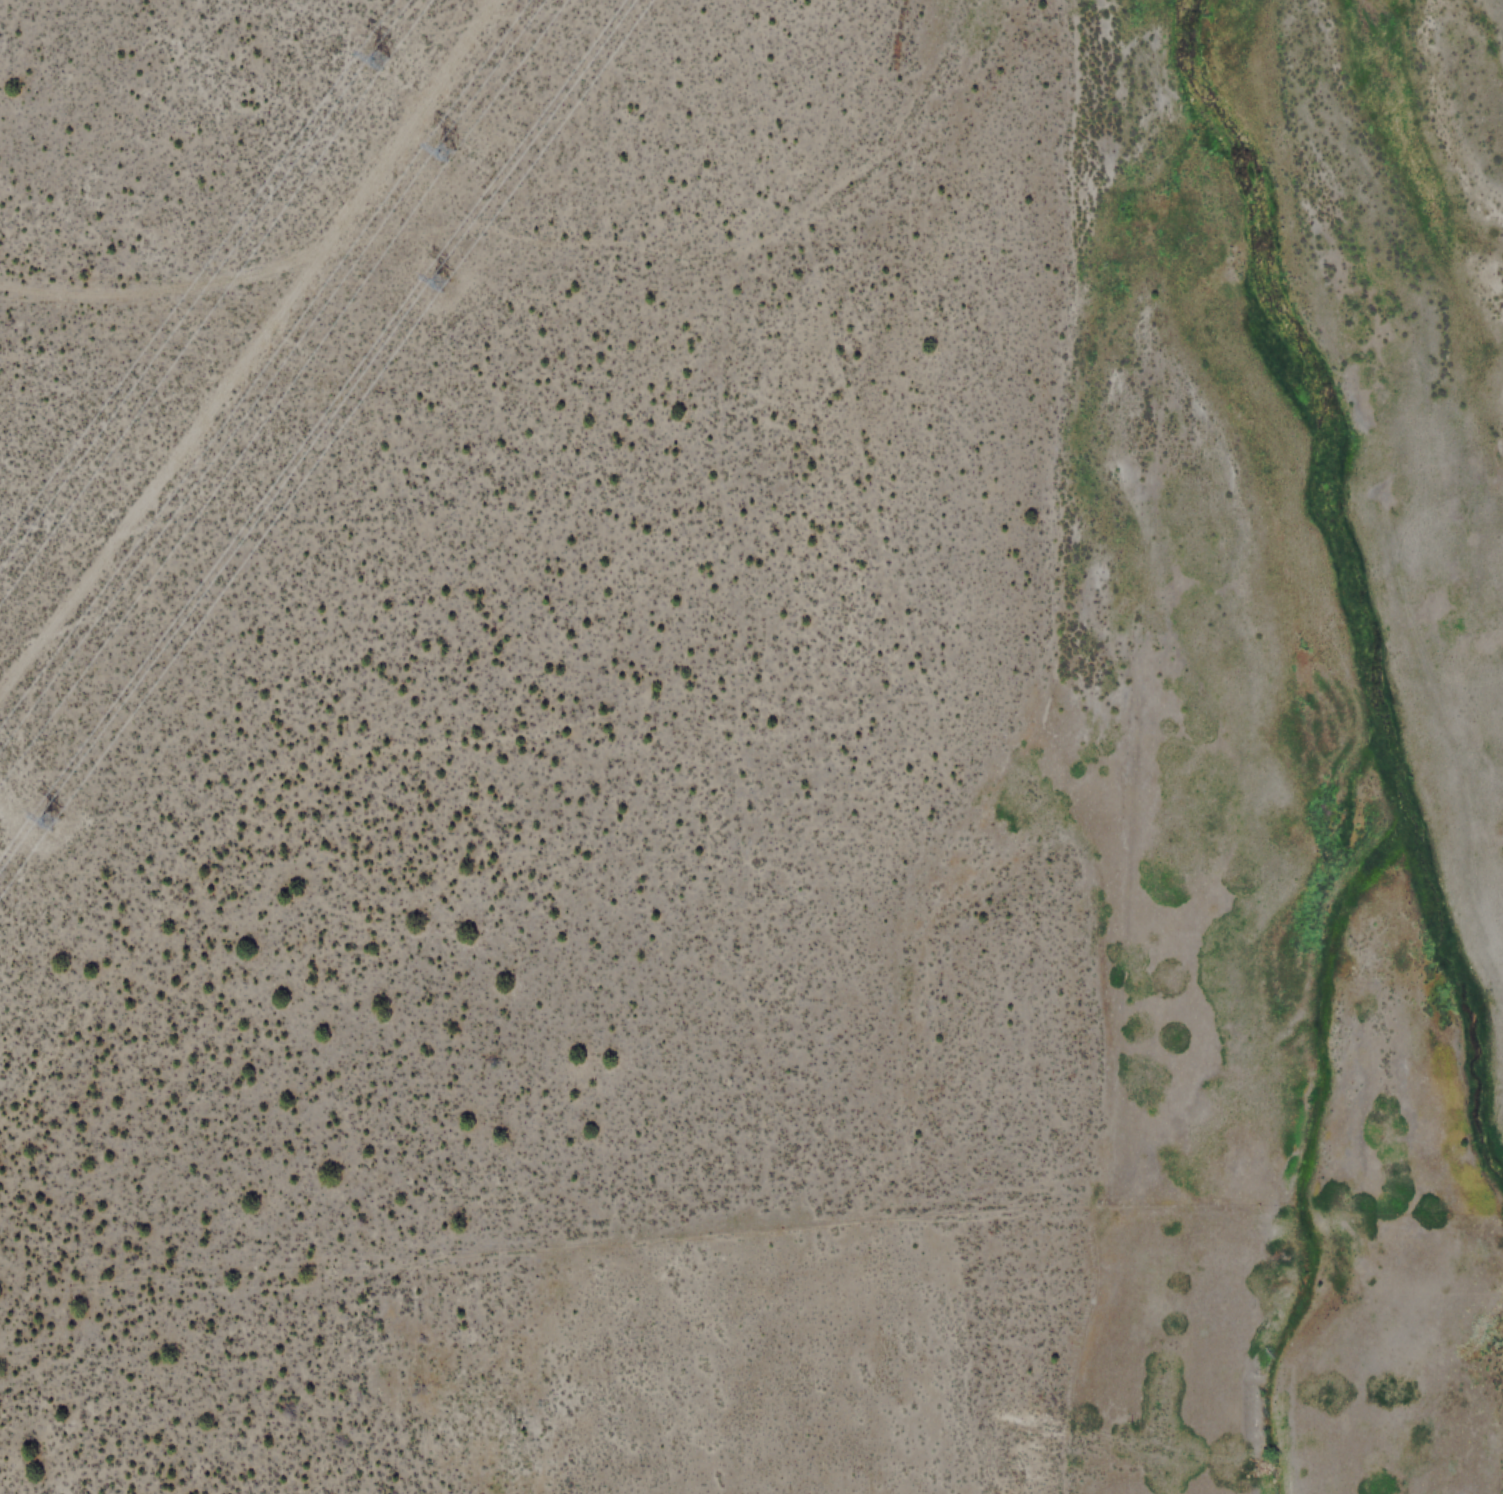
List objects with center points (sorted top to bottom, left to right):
power tower: (371, 44)
power tower: (446, 155)
power tower: (443, 299)
road: (264, 360)
power tower: (53, 832)

